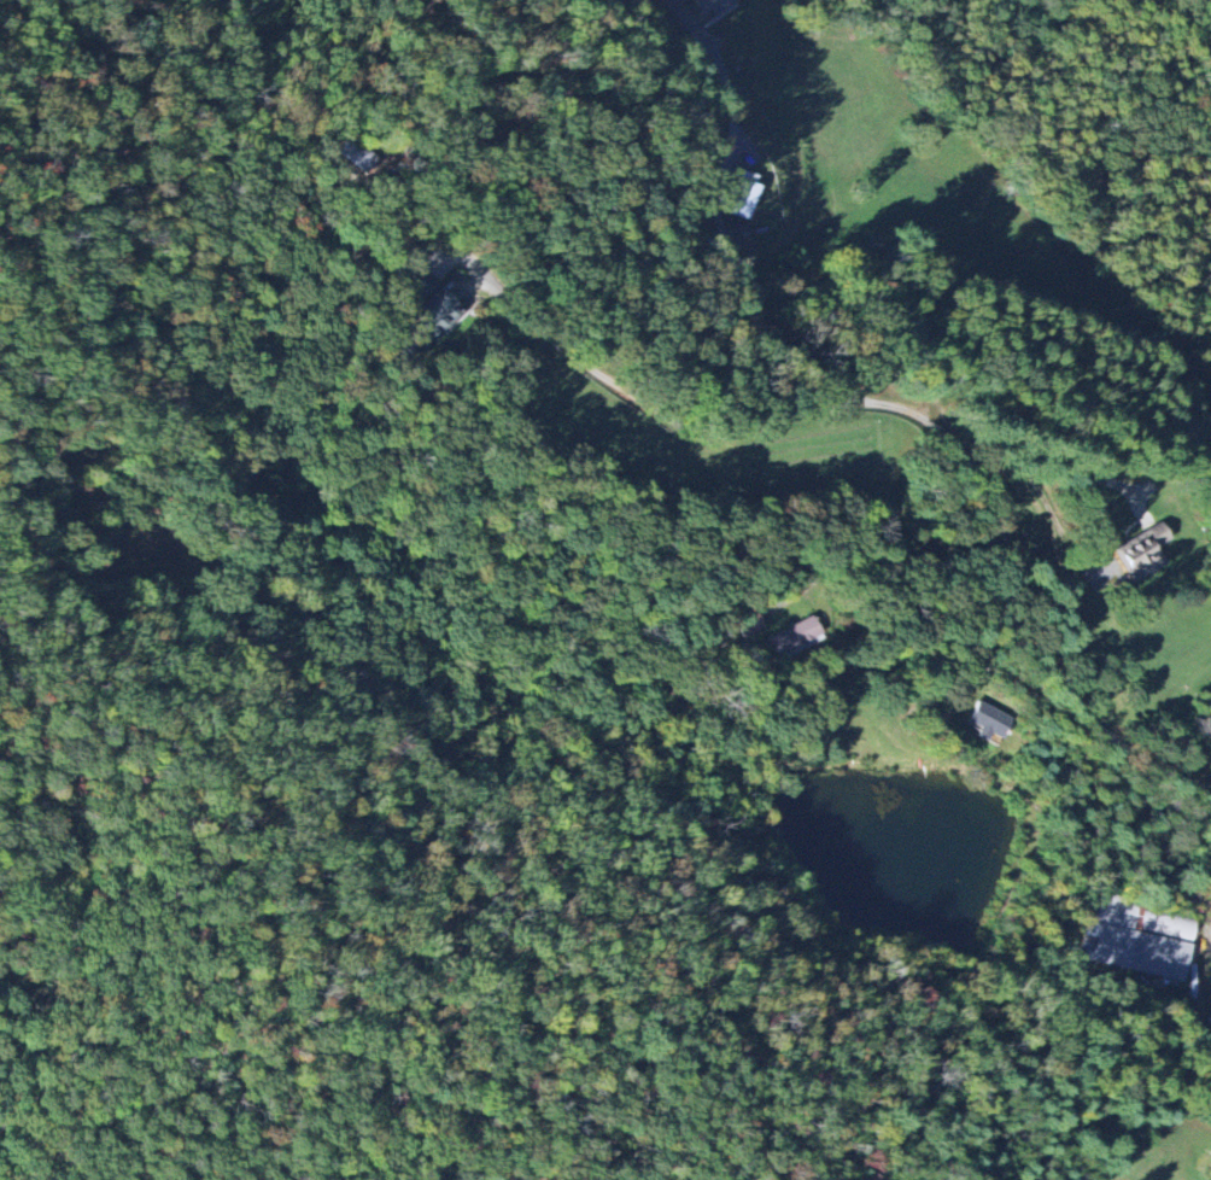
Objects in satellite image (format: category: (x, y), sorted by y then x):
road: (1175, 28)
building: (738, 200)
road: (720, 223)
building: (445, 303)
road: (920, 414)
building: (1145, 554)
building: (791, 637)
building: (987, 722)
building: (1137, 944)

